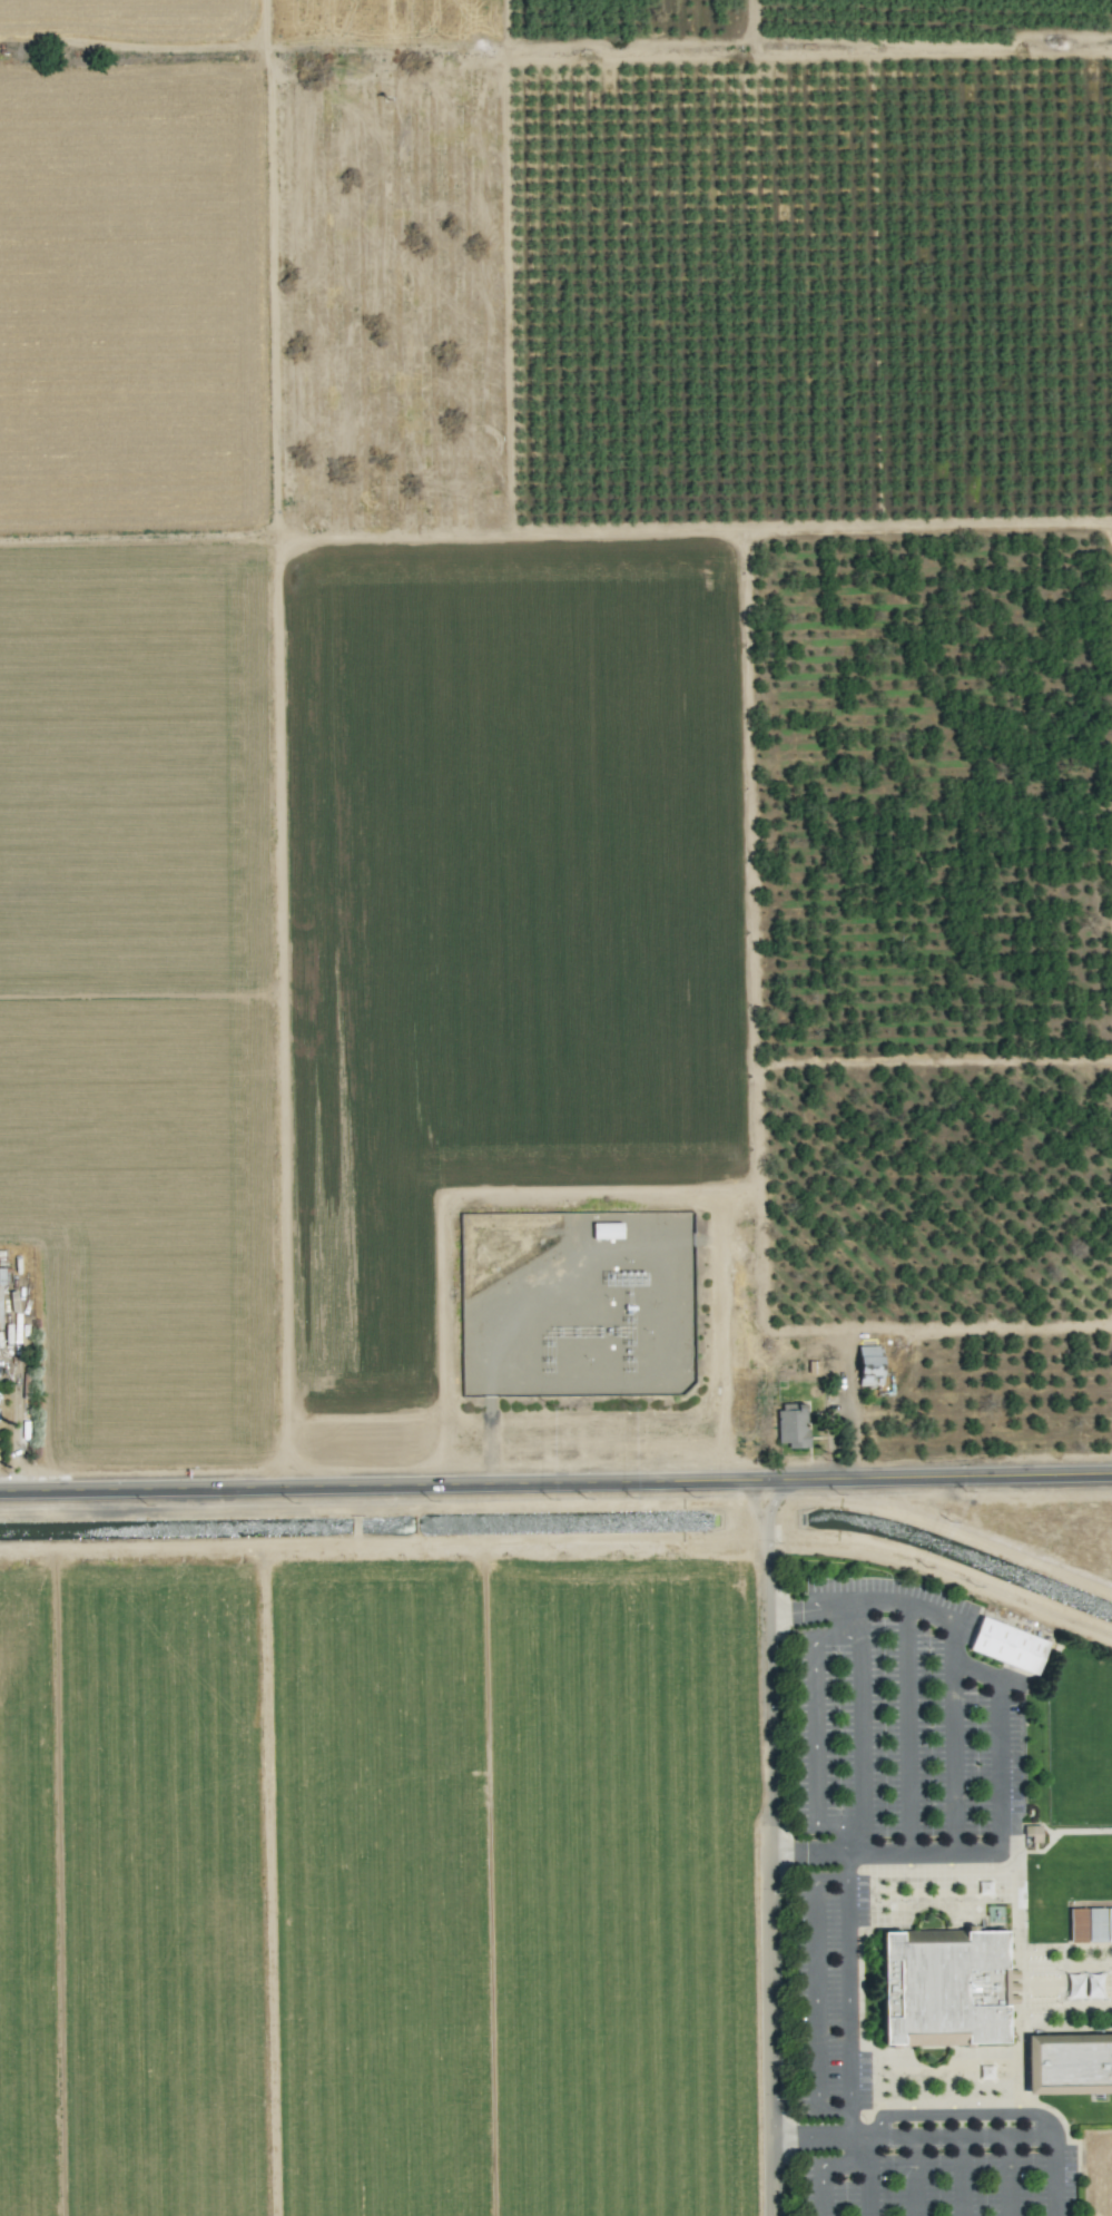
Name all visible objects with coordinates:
crop: (514, 1026)
building: (606, 1230)
building: (1, 1300)
building: (868, 1365)
building: (791, 1424)
road: (555, 1478)
building: (1007, 1645)
road: (1000, 1706)
road: (860, 1727)
road: (806, 1853)
road: (767, 1886)
building: (1095, 1924)
building: (1109, 1924)
building: (1076, 1925)
building: (943, 1988)
road: (848, 1993)
road: (815, 1996)
building: (1069, 2063)
road: (964, 2114)
road: (820, 2134)
road: (892, 2136)
road: (944, 2140)
road: (834, 2164)
road: (1053, 2176)
road: (1008, 2177)
road: (963, 2178)
road: (868, 2189)

